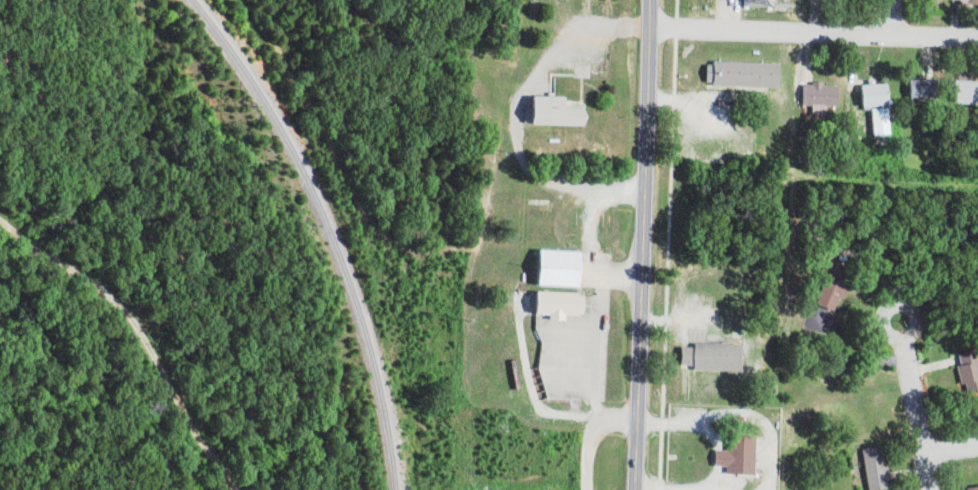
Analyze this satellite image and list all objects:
building: (766, 3)
road: (879, 18)
road: (815, 33)
building: (750, 74)
building: (931, 88)
building: (826, 96)
building: (886, 105)
railway: (331, 231)
road: (645, 244)
building: (570, 268)
building: (840, 282)
building: (569, 304)
building: (721, 355)
road: (914, 411)
road: (949, 443)
building: (746, 455)
building: (884, 468)

